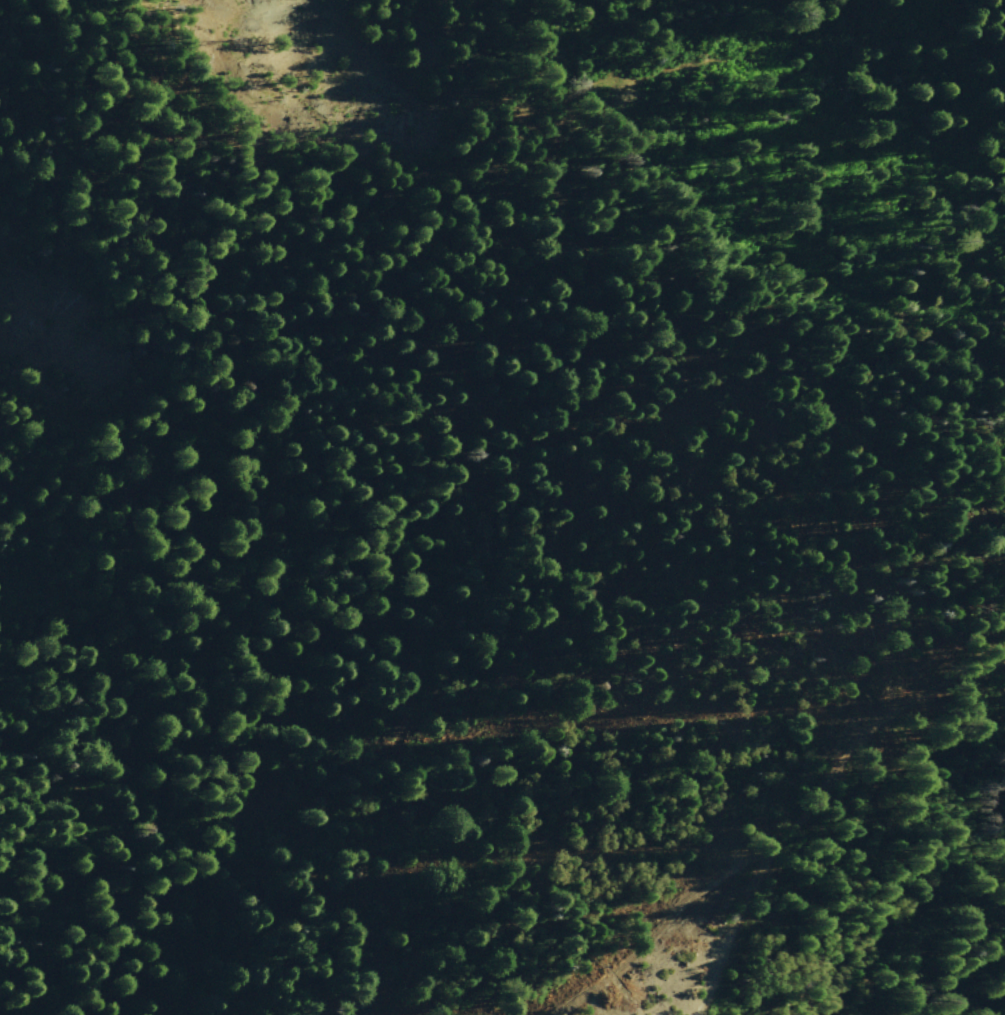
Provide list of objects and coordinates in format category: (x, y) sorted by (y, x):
road: (820, 808)

